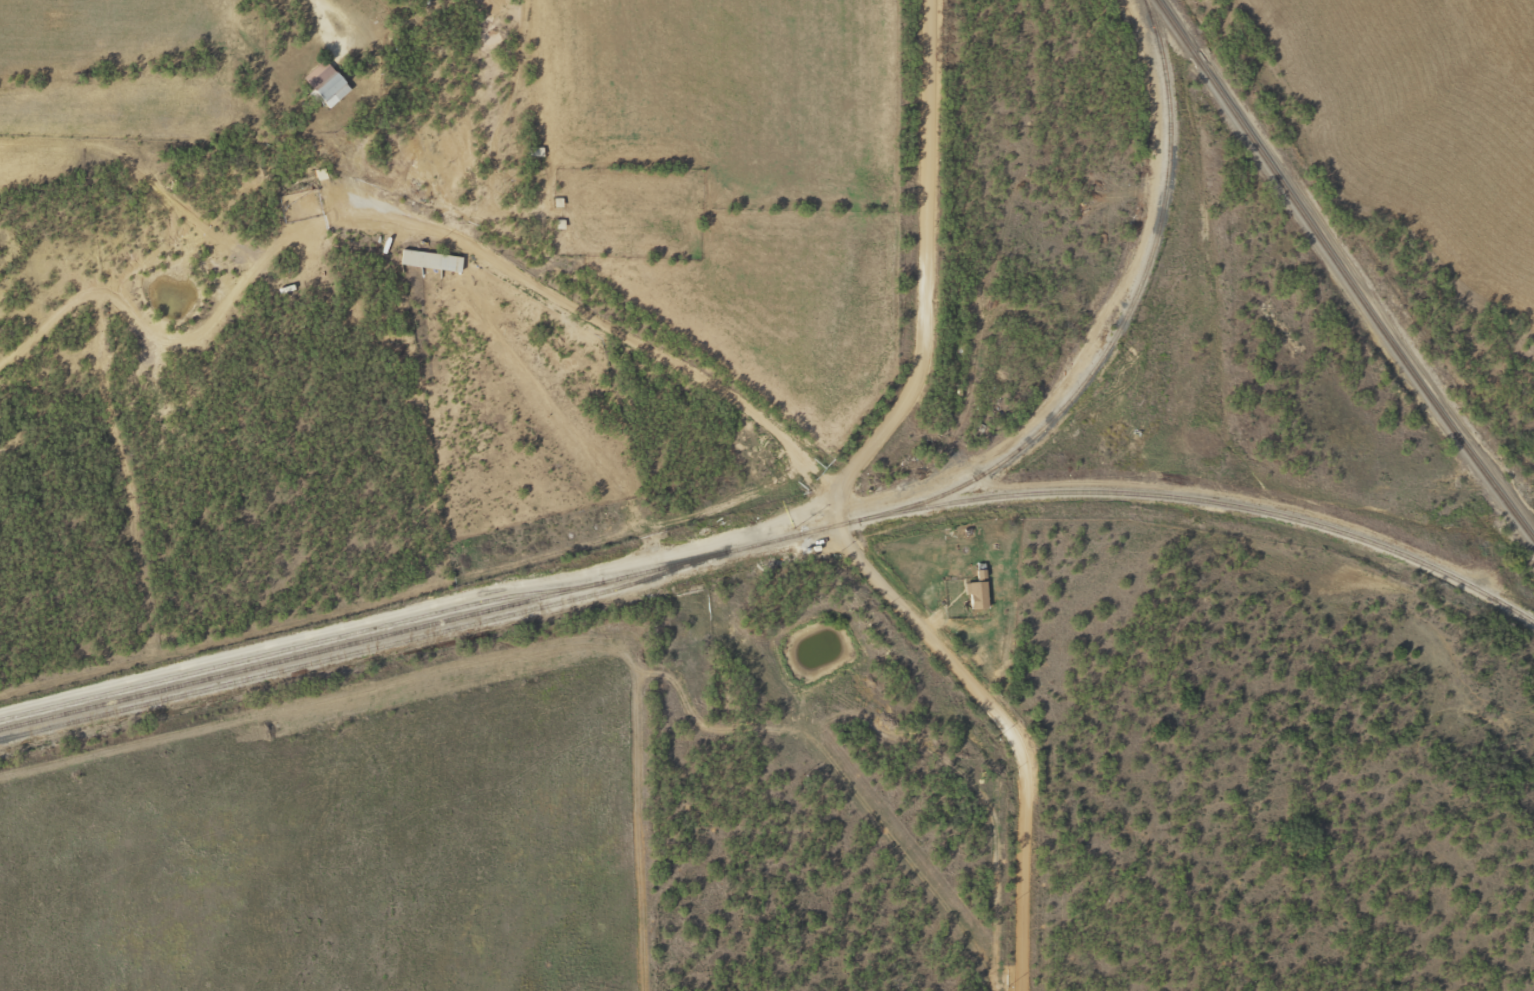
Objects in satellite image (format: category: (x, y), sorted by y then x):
building: (321, 85)
building: (426, 260)
railway: (1341, 271)
railway: (1124, 310)
railway: (1221, 503)
road: (835, 514)
building: (976, 589)
railway: (443, 619)
railway: (369, 647)

